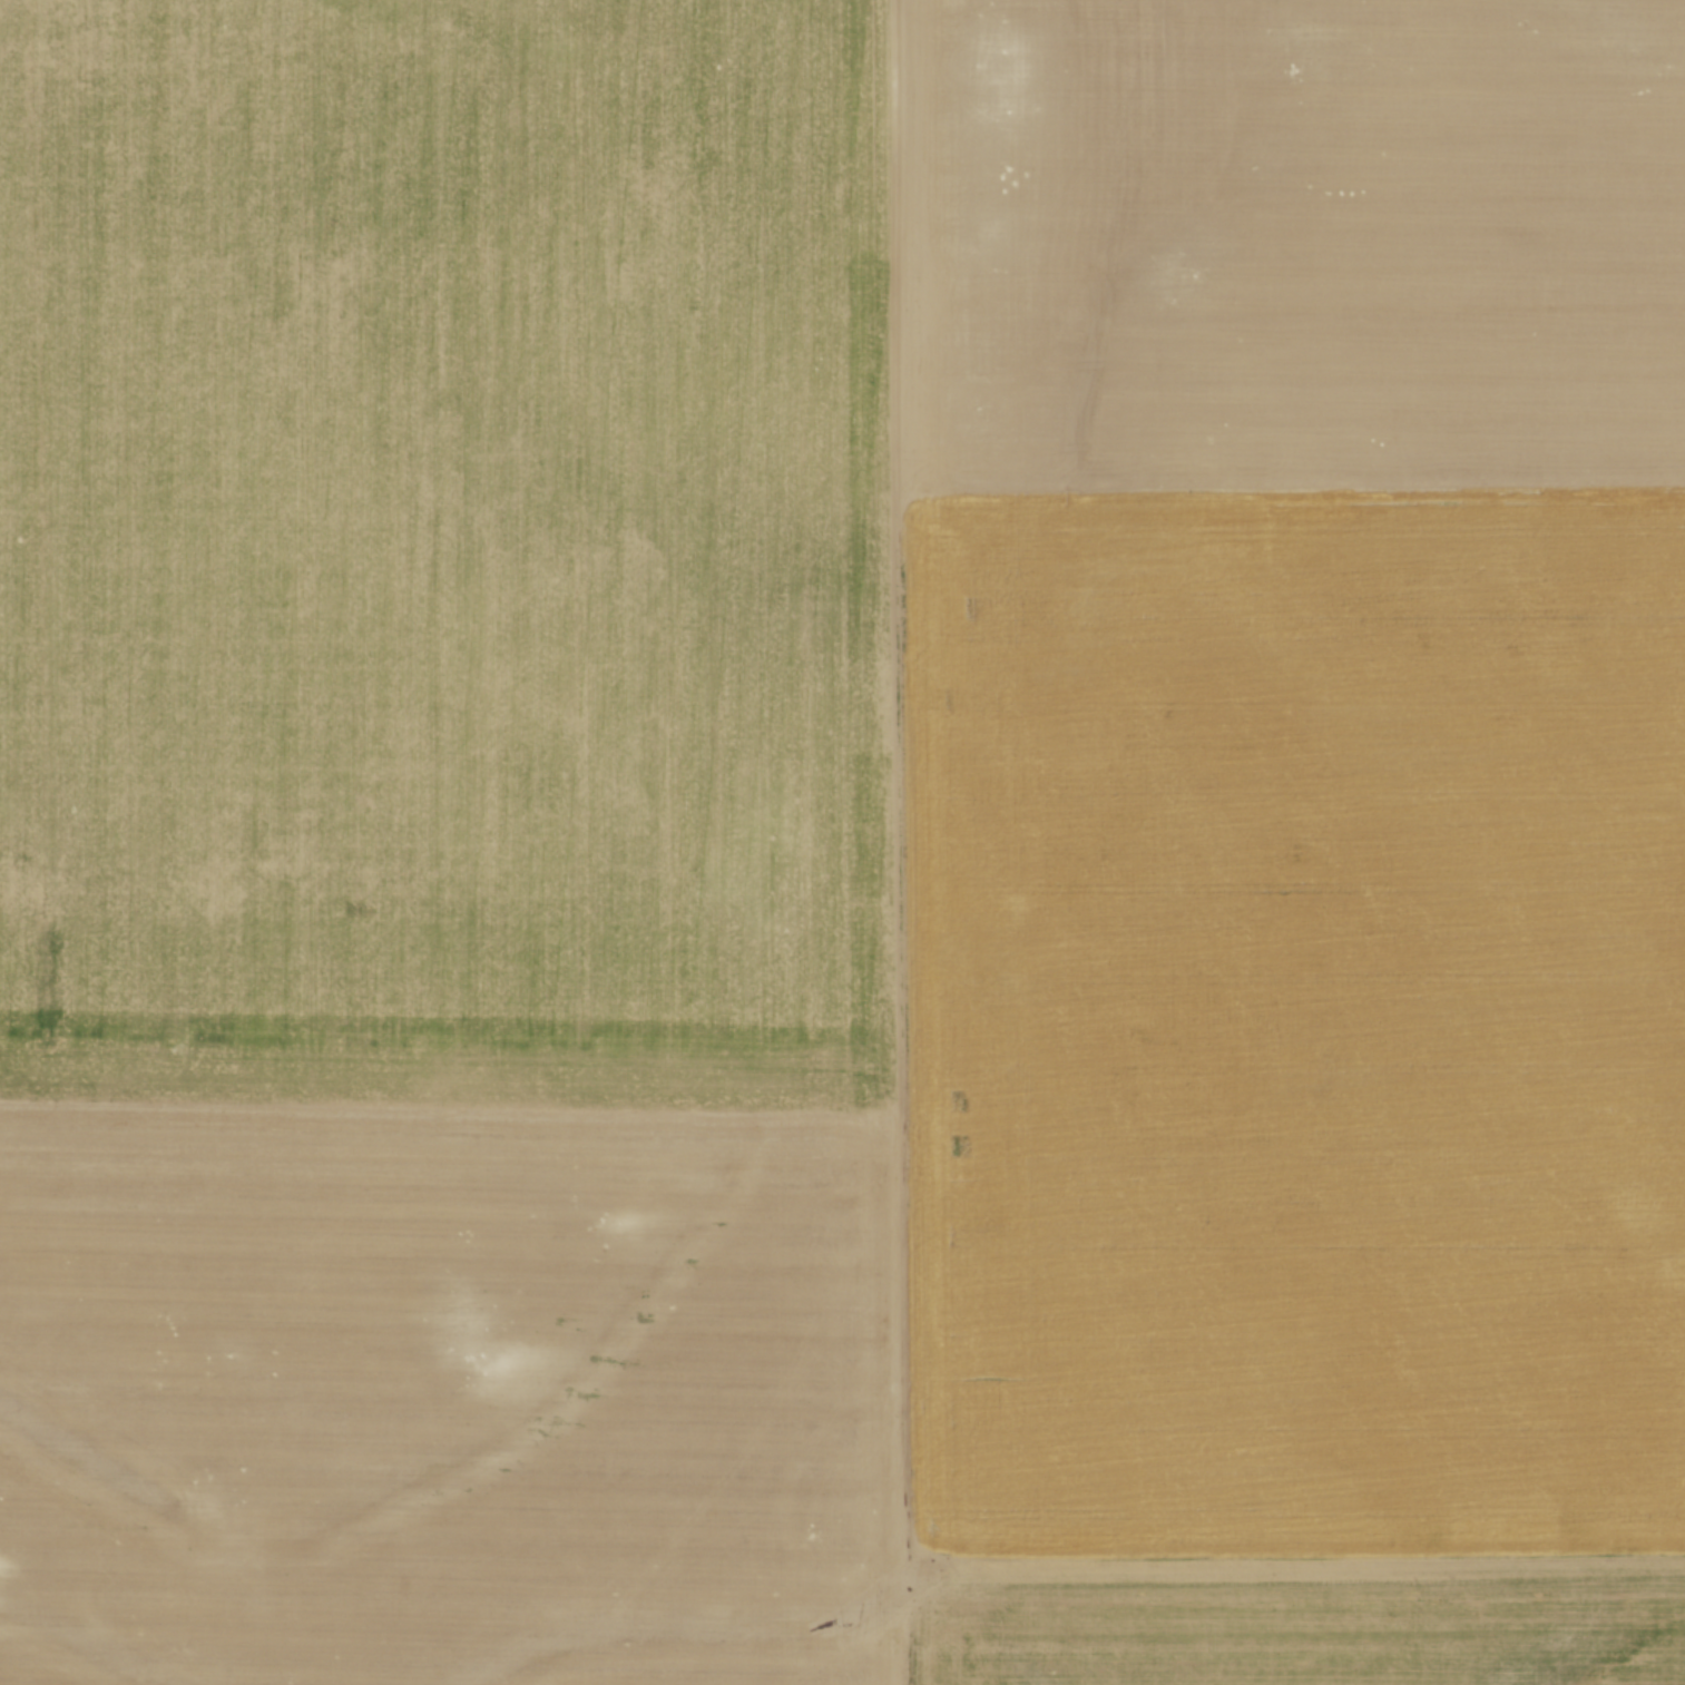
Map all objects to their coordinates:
crop: (842, 842)

